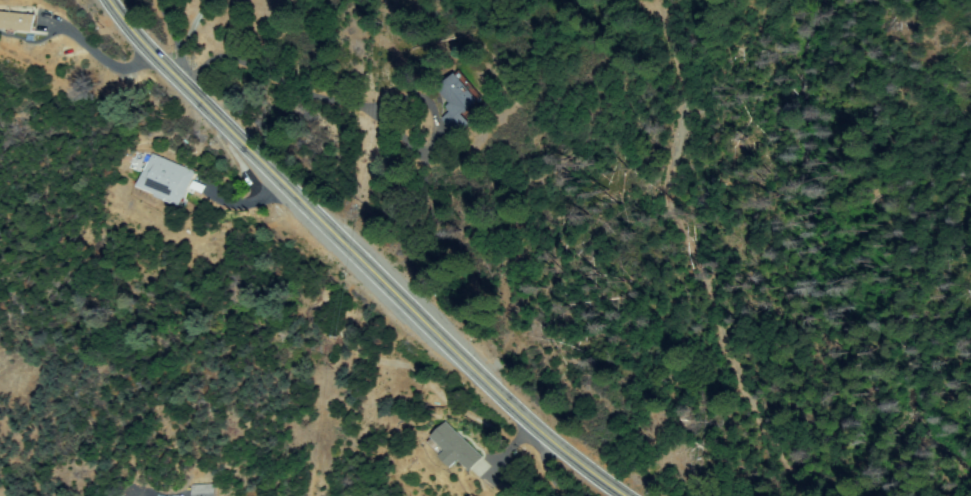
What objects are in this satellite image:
building: (16, 22)
building: (459, 101)
building: (166, 180)
road: (350, 262)
road: (689, 262)
building: (456, 448)
building: (203, 491)

